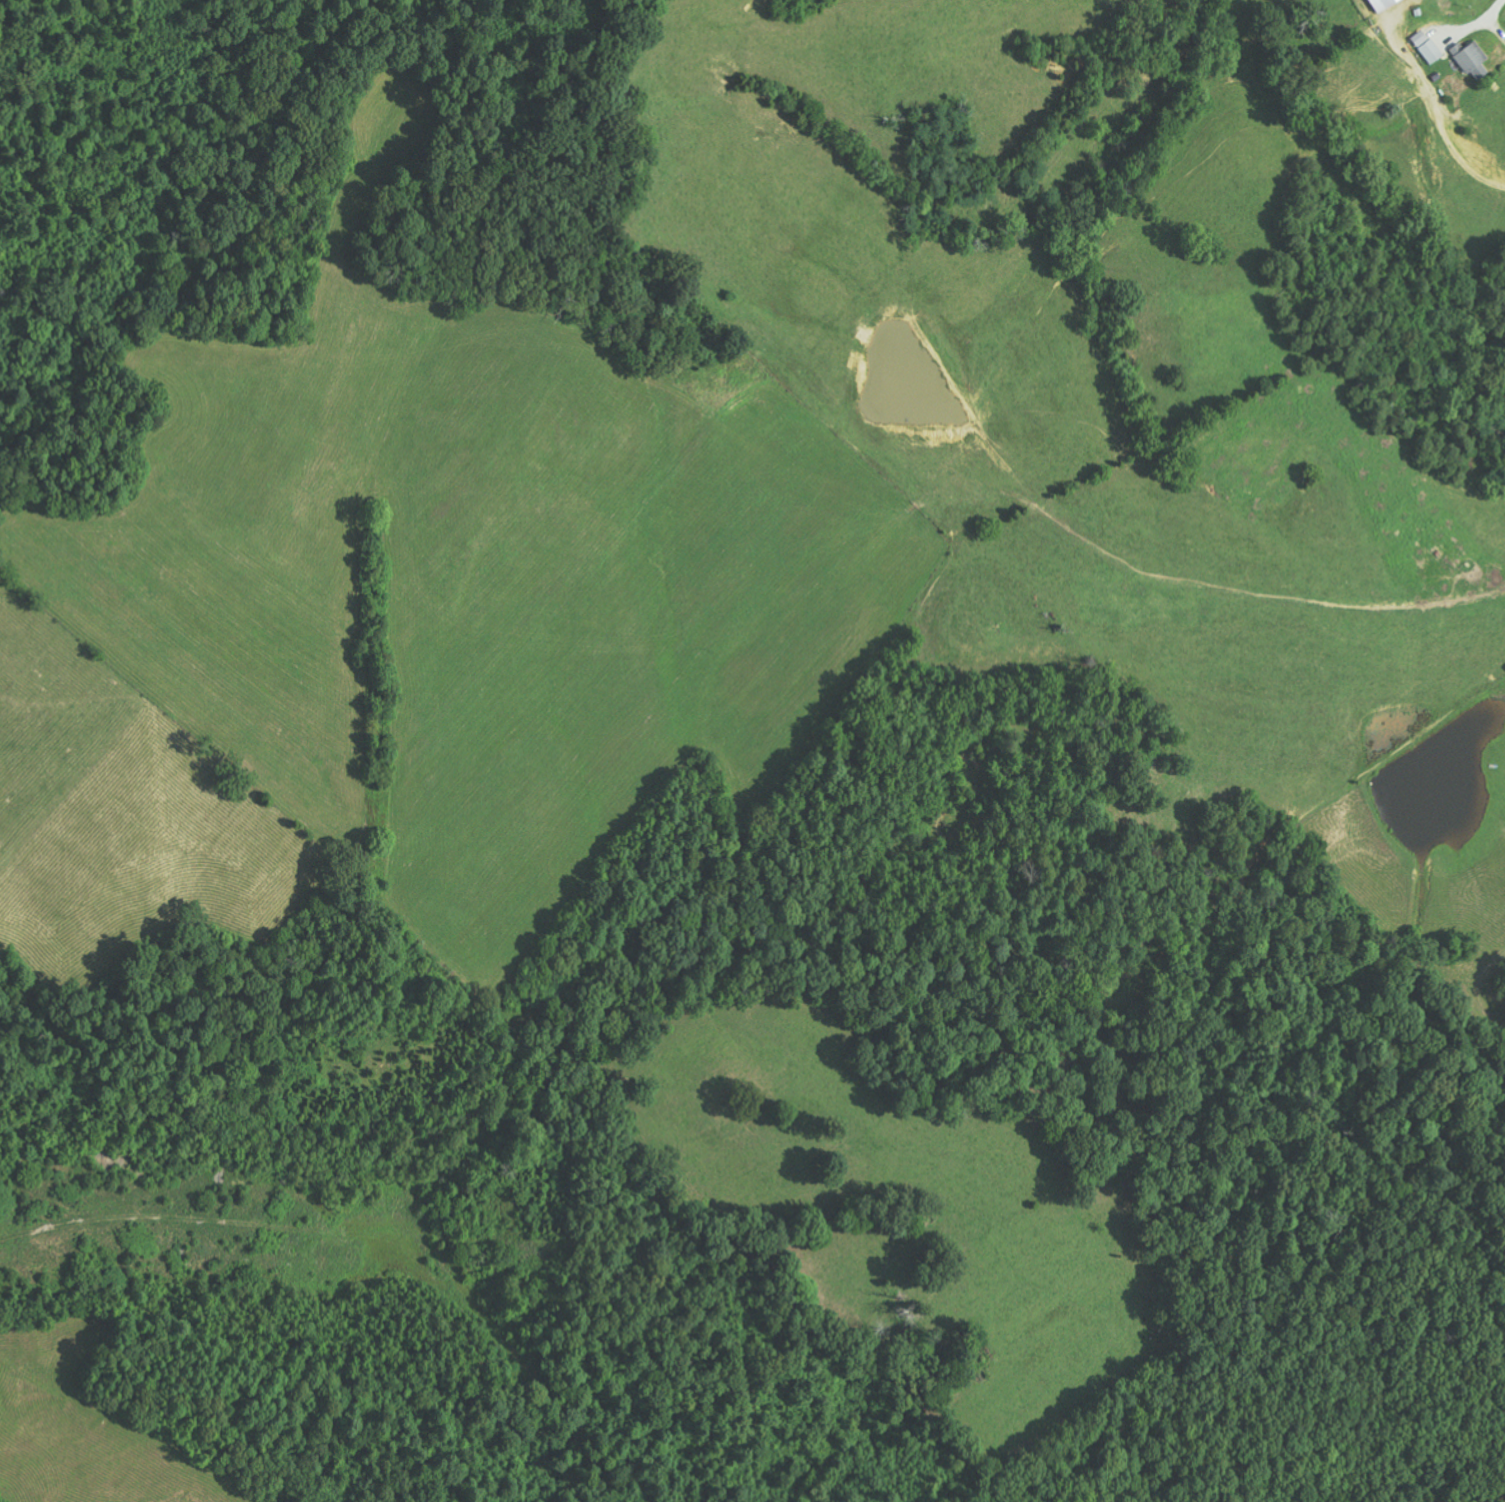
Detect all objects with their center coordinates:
building: (1384, 4)
road: (1486, 23)
building: (1432, 51)
building: (1471, 55)

